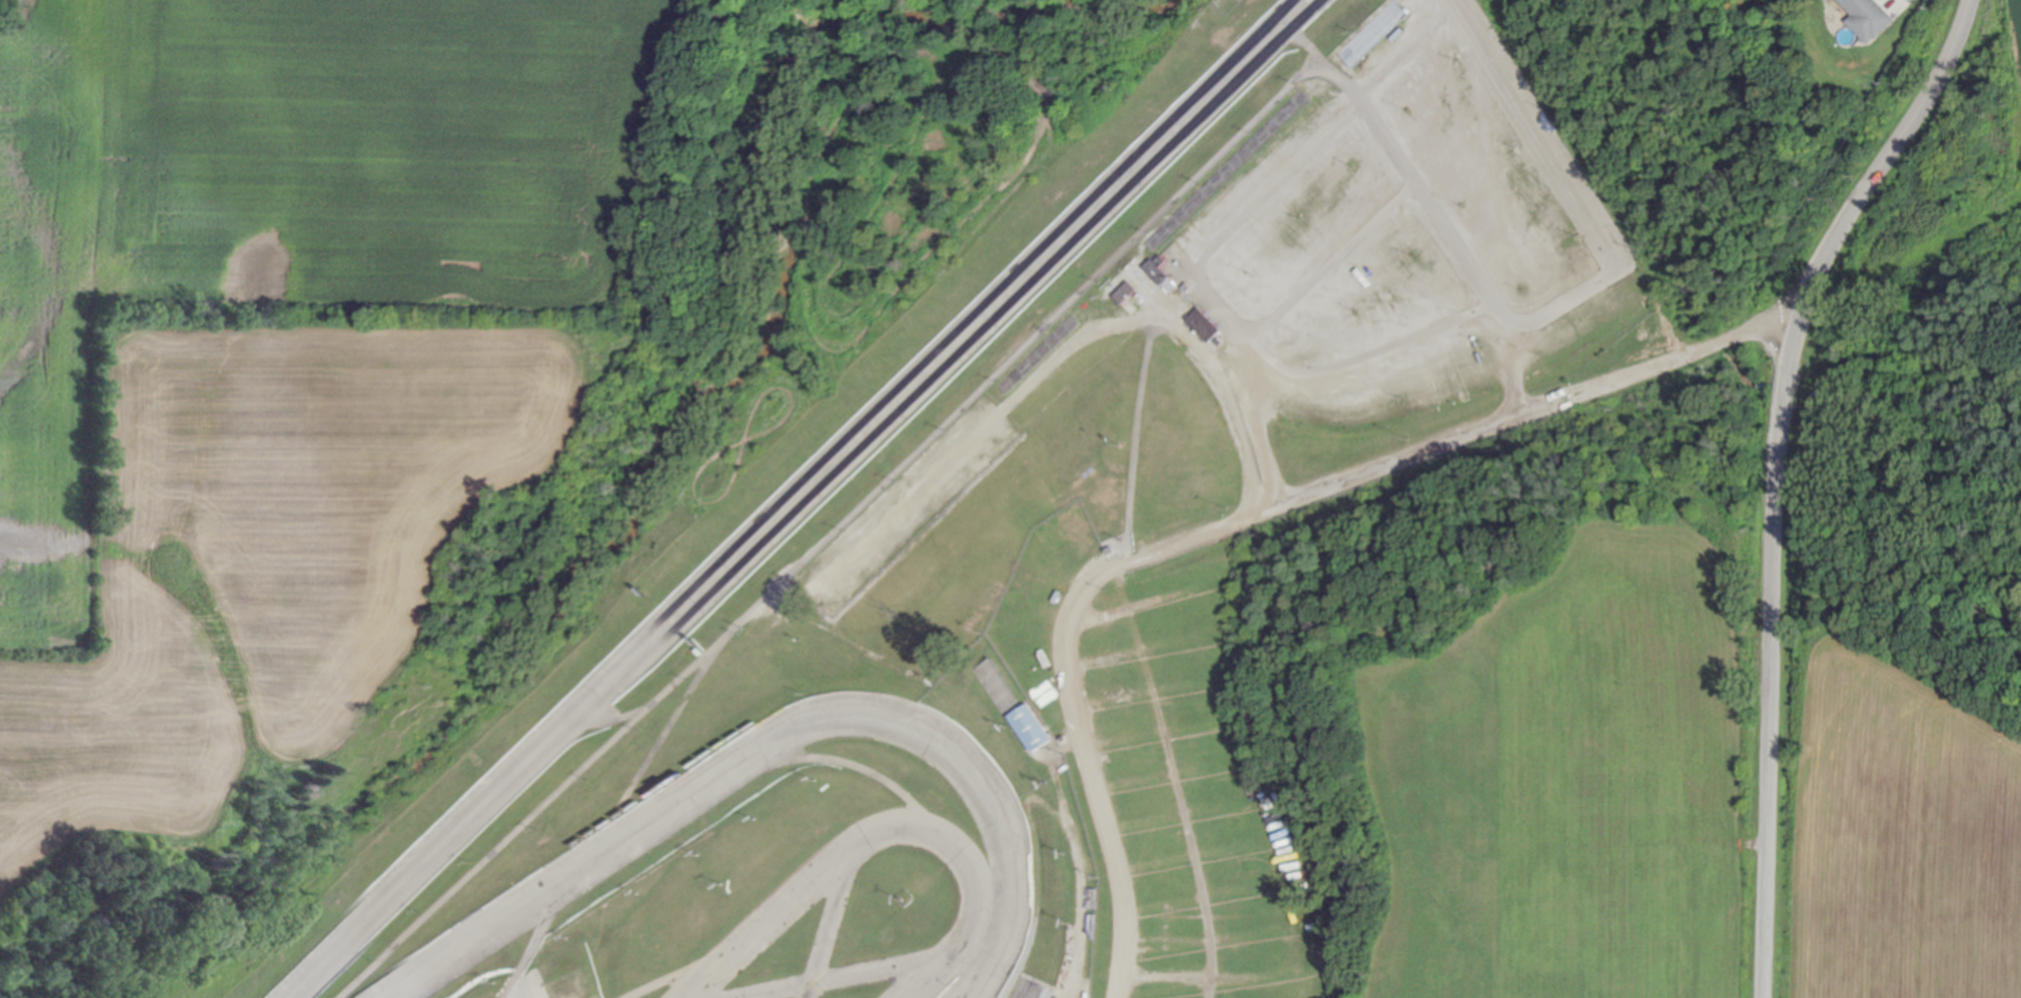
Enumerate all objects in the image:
building: (1404, 0)
building: (1868, 20)
building: (1394, 38)
road: (1301, 41)
road: (1537, 135)
parking lot: (1401, 241)
building: (1159, 273)
building: (1186, 288)
building: (1124, 292)
raceway: (978, 307)
raceway: (999, 313)
road: (1151, 321)
building: (1203, 325)
building: (1219, 342)
road: (1774, 475)
road: (1236, 518)
building: (1111, 544)
stadium: (964, 551)
building: (1364, 692)
road: (616, 717)
building: (1033, 721)
road: (663, 729)
raceway: (776, 740)
road: (848, 766)
building: (1262, 784)
parking lot: (1174, 786)
road: (543, 803)
raceway: (469, 806)
raceway: (488, 812)
raceway: (952, 847)
building: (1094, 895)
road: (543, 923)
raceway: (765, 923)
raceway: (826, 924)
road: (669, 976)
raceway: (836, 976)
raceway: (929, 977)

